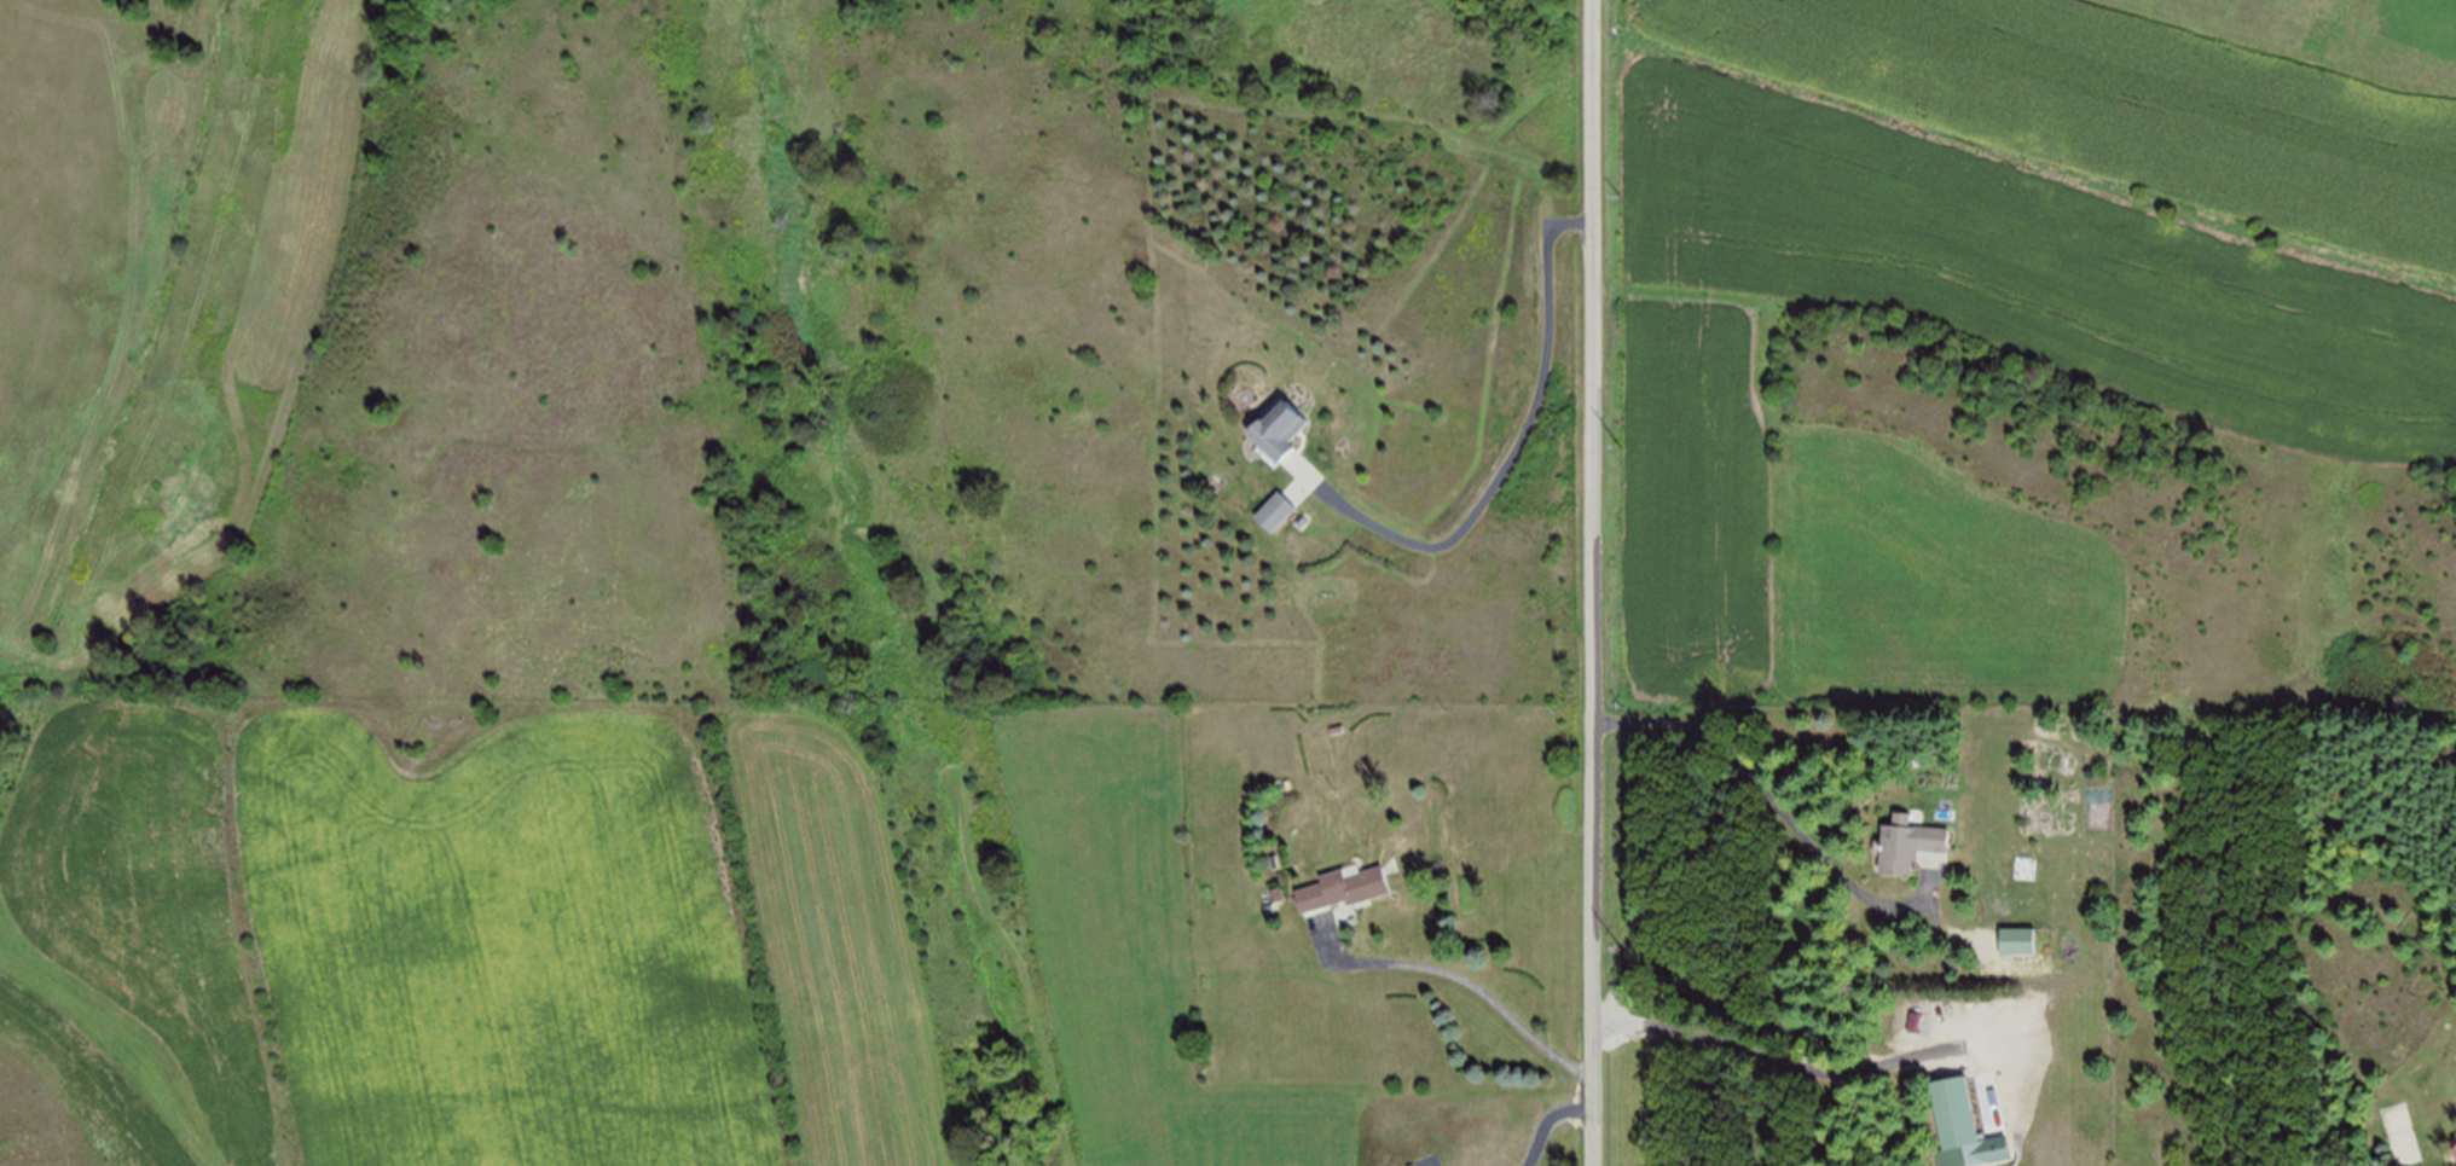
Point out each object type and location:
building: (1275, 430)
road: (1508, 463)
building: (1274, 510)
road: (1595, 582)
road: (1784, 807)
building: (1905, 845)
building: (1343, 887)
building: (2020, 940)
road: (1456, 974)
road: (1785, 1061)
building: (1953, 1113)
building: (2455, 1142)
building: (2454, 1149)

